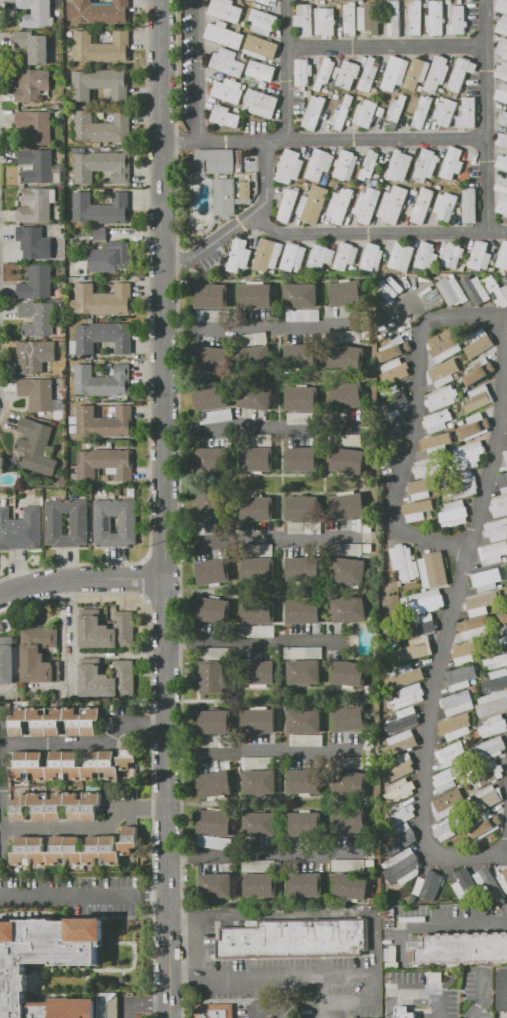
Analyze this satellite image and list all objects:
building: (265, 1)
building: (501, 6)
building: (226, 10)
building: (98, 12)
building: (37, 13)
building: (415, 17)
building: (350, 18)
building: (369, 18)
building: (396, 18)
building: (435, 18)
building: (305, 20)
building: (457, 20)
building: (262, 21)
building: (325, 21)
building: (502, 25)
building: (225, 36)
building: (34, 46)
building: (101, 47)
building: (260, 47)
road: (388, 47)
building: (502, 47)
building: (227, 62)
road: (289, 69)
road: (200, 70)
building: (261, 70)
building: (502, 71)
building: (302, 72)
building: (324, 73)
building: (395, 73)
building: (417, 73)
building: (461, 73)
building: (348, 74)
building: (437, 74)
building: (369, 75)
building: (98, 82)
building: (33, 85)
building: (227, 91)
building: (502, 92)
building: (262, 102)
building: (398, 106)
building: (445, 111)
building: (314, 112)
building: (422, 112)
building: (342, 113)
building: (366, 113)
building: (468, 113)
building: (101, 114)
road: (488, 115)
building: (225, 116)
building: (503, 118)
building: (36, 125)
building: (101, 127)
road: (325, 139)
building: (502, 139)
building: (215, 160)
building: (502, 161)
building: (452, 163)
building: (369, 164)
building: (37, 165)
building: (319, 165)
building: (345, 165)
building: (425, 165)
building: (103, 166)
building: (399, 166)
building: (289, 167)
building: (502, 185)
building: (245, 190)
building: (224, 196)
building: (36, 204)
building: (313, 204)
building: (339, 204)
building: (367, 204)
building: (392, 204)
building: (288, 205)
building: (422, 205)
building: (445, 205)
building: (469, 205)
building: (503, 205)
building: (101, 208)
building: (100, 234)
road: (343, 234)
road: (214, 236)
building: (34, 242)
building: (267, 254)
building: (239, 255)
building: (345, 255)
building: (479, 255)
building: (293, 256)
building: (321, 256)
building: (371, 256)
building: (401, 256)
building: (426, 256)
building: (452, 256)
building: (100, 257)
building: (503, 257)
building: (79, 269)
building: (36, 282)
building: (475, 289)
building: (496, 290)
building: (451, 291)
building: (346, 293)
building: (256, 295)
building: (301, 295)
building: (211, 296)
building: (102, 299)
road: (416, 309)
building: (303, 314)
road: (466, 317)
building: (38, 318)
road: (267, 330)
building: (104, 336)
building: (343, 336)
building: (251, 339)
building: (478, 343)
building: (443, 345)
building: (394, 348)
building: (35, 355)
building: (300, 356)
building: (347, 357)
building: (211, 358)
building: (254, 358)
building: (395, 371)
building: (479, 373)
building: (441, 374)
building: (102, 381)
building: (37, 393)
building: (347, 396)
building: (211, 397)
building: (255, 397)
building: (395, 397)
building: (441, 397)
building: (301, 399)
building: (477, 399)
building: (102, 410)
building: (215, 416)
building: (302, 418)
building: (437, 421)
building: (104, 422)
building: (394, 422)
building: (506, 425)
building: (474, 426)
road: (265, 431)
building: (348, 439)
building: (433, 444)
building: (35, 445)
building: (469, 455)
building: (505, 455)
building: (303, 458)
building: (257, 459)
building: (213, 460)
building: (348, 460)
road: (406, 460)
building: (104, 463)
building: (2, 465)
building: (426, 467)
building: (502, 483)
building: (461, 485)
building: (419, 489)
building: (210, 504)
building: (350, 505)
building: (257, 507)
building: (499, 507)
building: (302, 508)
road: (165, 509)
building: (417, 509)
building: (454, 513)
building: (78, 523)
building: (128, 524)
building: (20, 529)
building: (496, 530)
road: (262, 538)
building: (347, 548)
building: (261, 550)
building: (493, 552)
building: (404, 561)
building: (303, 567)
building: (258, 569)
building: (349, 569)
building: (433, 570)
building: (212, 572)
road: (81, 574)
building: (486, 579)
building: (506, 593)
building: (426, 601)
building: (478, 604)
building: (348, 608)
building: (213, 609)
building: (258, 611)
building: (304, 611)
road: (61, 616)
road: (452, 617)
building: (503, 617)
building: (421, 623)
building: (475, 626)
road: (71, 630)
building: (107, 631)
building: (259, 631)
building: (505, 632)
road: (254, 644)
building: (415, 649)
building: (464, 651)
building: (303, 652)
building: (39, 655)
building: (6, 660)
building: (496, 661)
building: (258, 671)
building: (304, 672)
building: (348, 673)
building: (212, 675)
building: (406, 675)
building: (461, 677)
building: (107, 680)
building: (495, 681)
building: (406, 695)
building: (457, 702)
building: (492, 703)
building: (350, 717)
building: (408, 717)
building: (304, 720)
building: (55, 721)
building: (259, 721)
building: (213, 722)
building: (493, 725)
building: (452, 728)
building: (306, 740)
building: (403, 742)
road: (86, 743)
building: (489, 748)
road: (258, 751)
building: (450, 754)
building: (262, 762)
building: (348, 762)
building: (72, 765)
building: (399, 768)
building: (486, 774)
building: (446, 778)
building: (304, 781)
building: (260, 782)
building: (350, 782)
building: (214, 784)
building: (399, 790)
building: (486, 798)
building: (446, 804)
building: (57, 805)
building: (400, 814)
building: (350, 821)
building: (215, 822)
building: (259, 824)
building: (305, 824)
building: (484, 825)
road: (87, 829)
building: (444, 829)
building: (401, 838)
building: (214, 842)
building: (301, 843)
road: (0, 846)
building: (75, 849)
road: (263, 856)
building: (257, 865)
building: (349, 865)
building: (403, 867)
building: (506, 879)
building: (488, 882)
building: (428, 883)
building: (215, 884)
building: (305, 884)
building: (260, 885)
building: (351, 885)
building: (464, 885)
road: (83, 895)
road: (297, 914)
parking lot: (440, 923)
road: (443, 924)
road: (482, 927)
building: (295, 939)
road: (482, 946)
building: (464, 947)
building: (14, 969)
road: (271, 974)
parking lot: (498, 983)
road: (483, 992)
road: (428, 993)
road: (320, 995)
road: (360, 1001)
road: (407, 1001)
road: (267, 1010)
building: (213, 1012)
building: (406, 1015)
building: (376, 1017)

